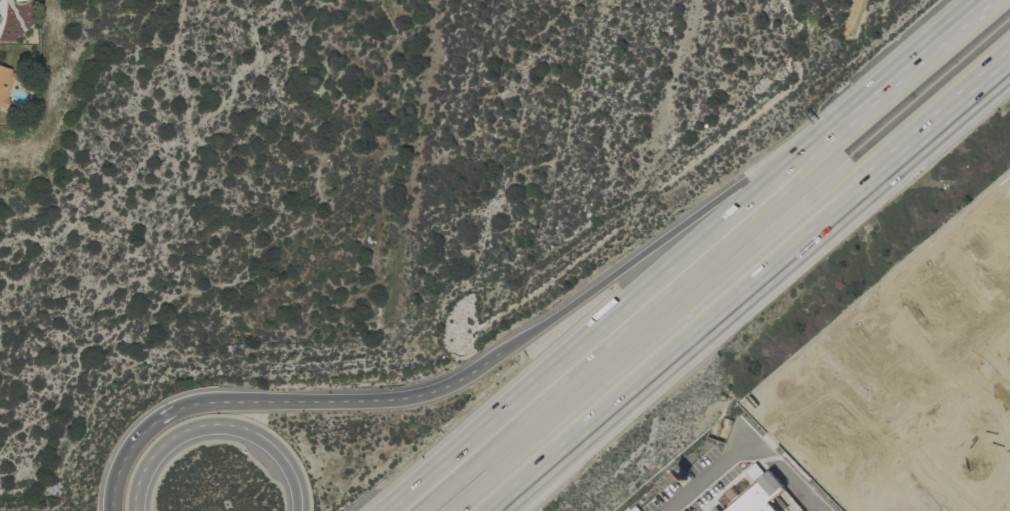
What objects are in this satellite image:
quarry: (863, 15)
road: (912, 58)
building: (5, 85)
road: (753, 291)
road: (614, 313)
road: (940, 344)
road: (484, 367)
road: (218, 427)
road: (919, 462)
road: (780, 469)
road: (697, 484)
building: (758, 492)
building: (714, 509)

